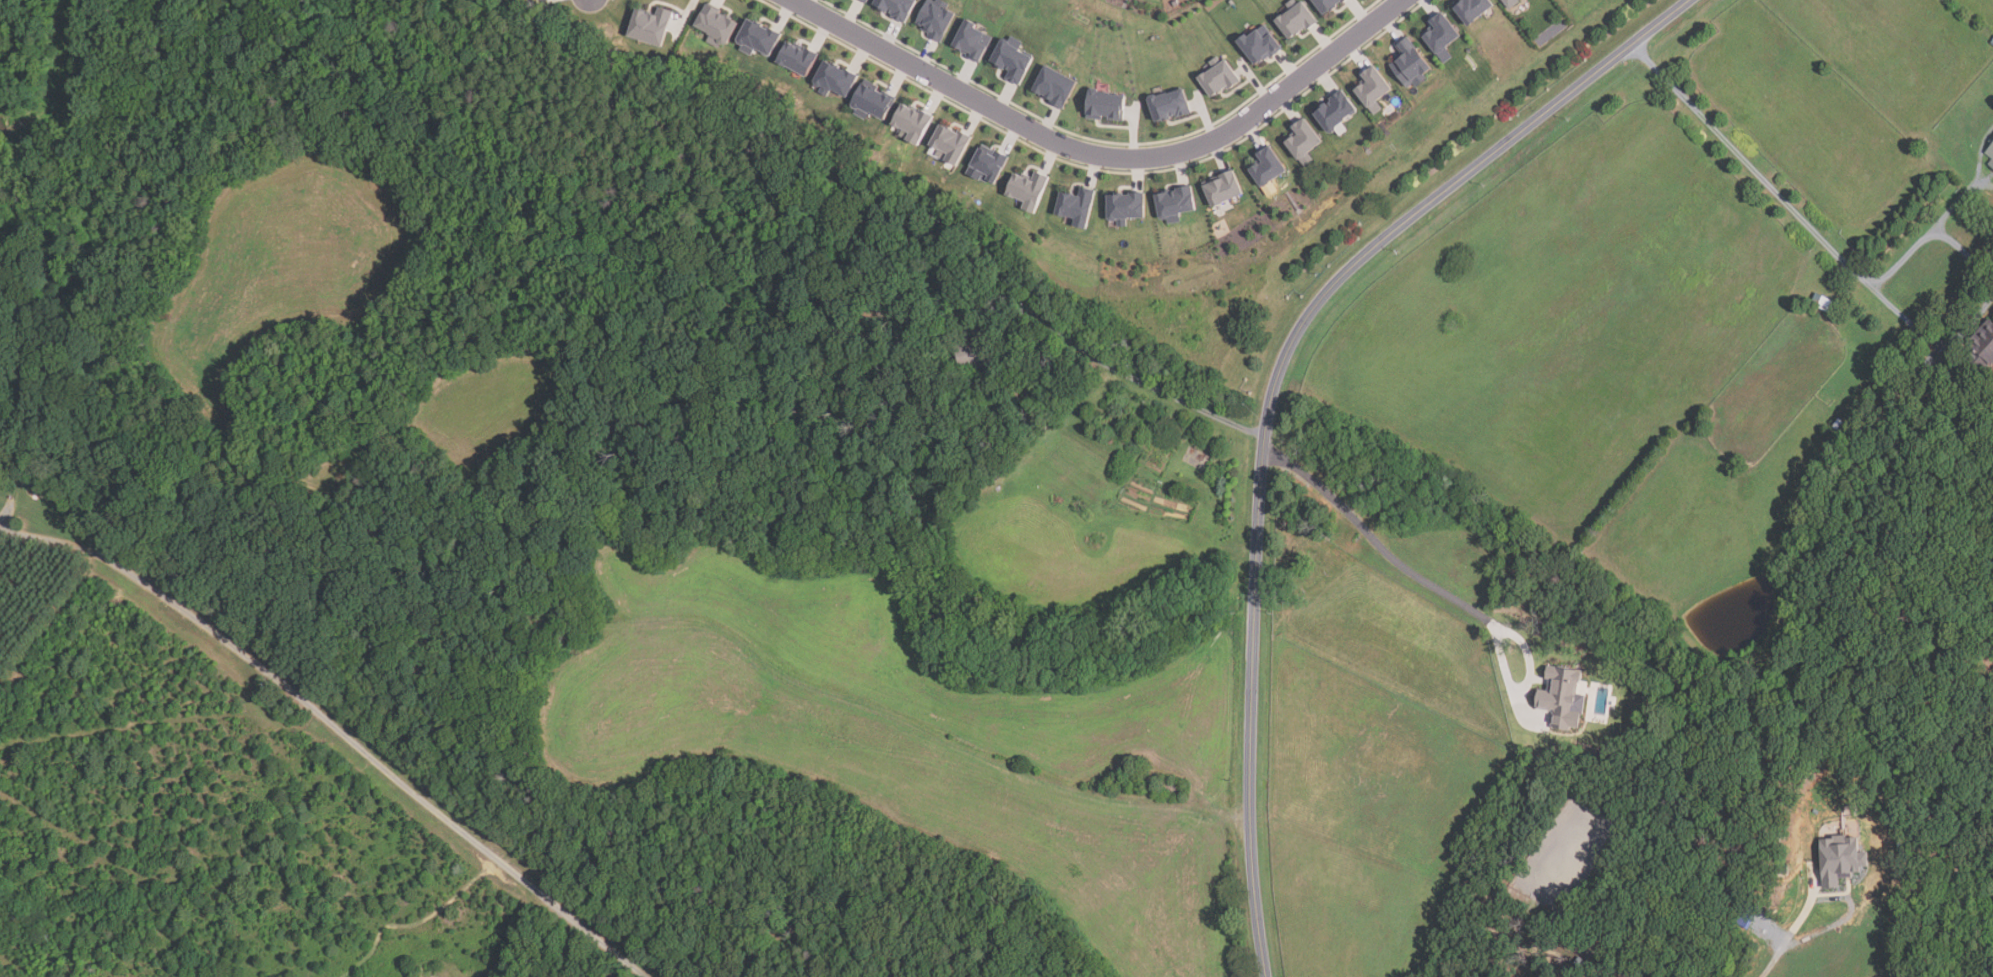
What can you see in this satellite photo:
building: (539, 0)
building: (865, 0)
building: (1344, 0)
building: (1511, 3)
building: (1327, 4)
building: (897, 8)
building: (1473, 9)
building: (936, 18)
building: (1297, 18)
building: (650, 25)
building: (716, 25)
building: (1441, 35)
building: (758, 37)
building: (973, 41)
building: (1992, 43)
building: (1260, 44)
building: (797, 57)
building: (1013, 60)
building: (1409, 63)
building: (1219, 76)
building: (835, 78)
building: (1056, 86)
building: (1373, 88)
building: (872, 101)
building: (1105, 105)
building: (1170, 105)
building: (1335, 111)
building: (913, 122)
building: (1302, 140)
building: (1992, 140)
building: (951, 144)
building: (1991, 151)
road: (1102, 156)
building: (987, 164)
building: (1991, 164)
road: (1749, 165)
building: (1266, 166)
building: (1221, 188)
building: (1028, 189)
road: (1958, 201)
building: (1175, 203)
building: (1076, 206)
building: (1125, 206)
road: (1965, 253)
road: (1902, 262)
building: (1826, 304)
road: (1929, 338)
building: (1982, 347)
building: (975, 353)
road: (1117, 368)
road: (1272, 395)
building: (1840, 426)
road: (1442, 591)
river: (1747, 636)
building: (1563, 697)
road: (336, 726)
building: (1902, 846)
building: (1841, 861)
building: (1783, 870)
building: (1747, 914)
road: (1771, 944)
building: (1614, 951)
building: (1630, 961)
building: (1581, 964)
building: (1607, 976)

